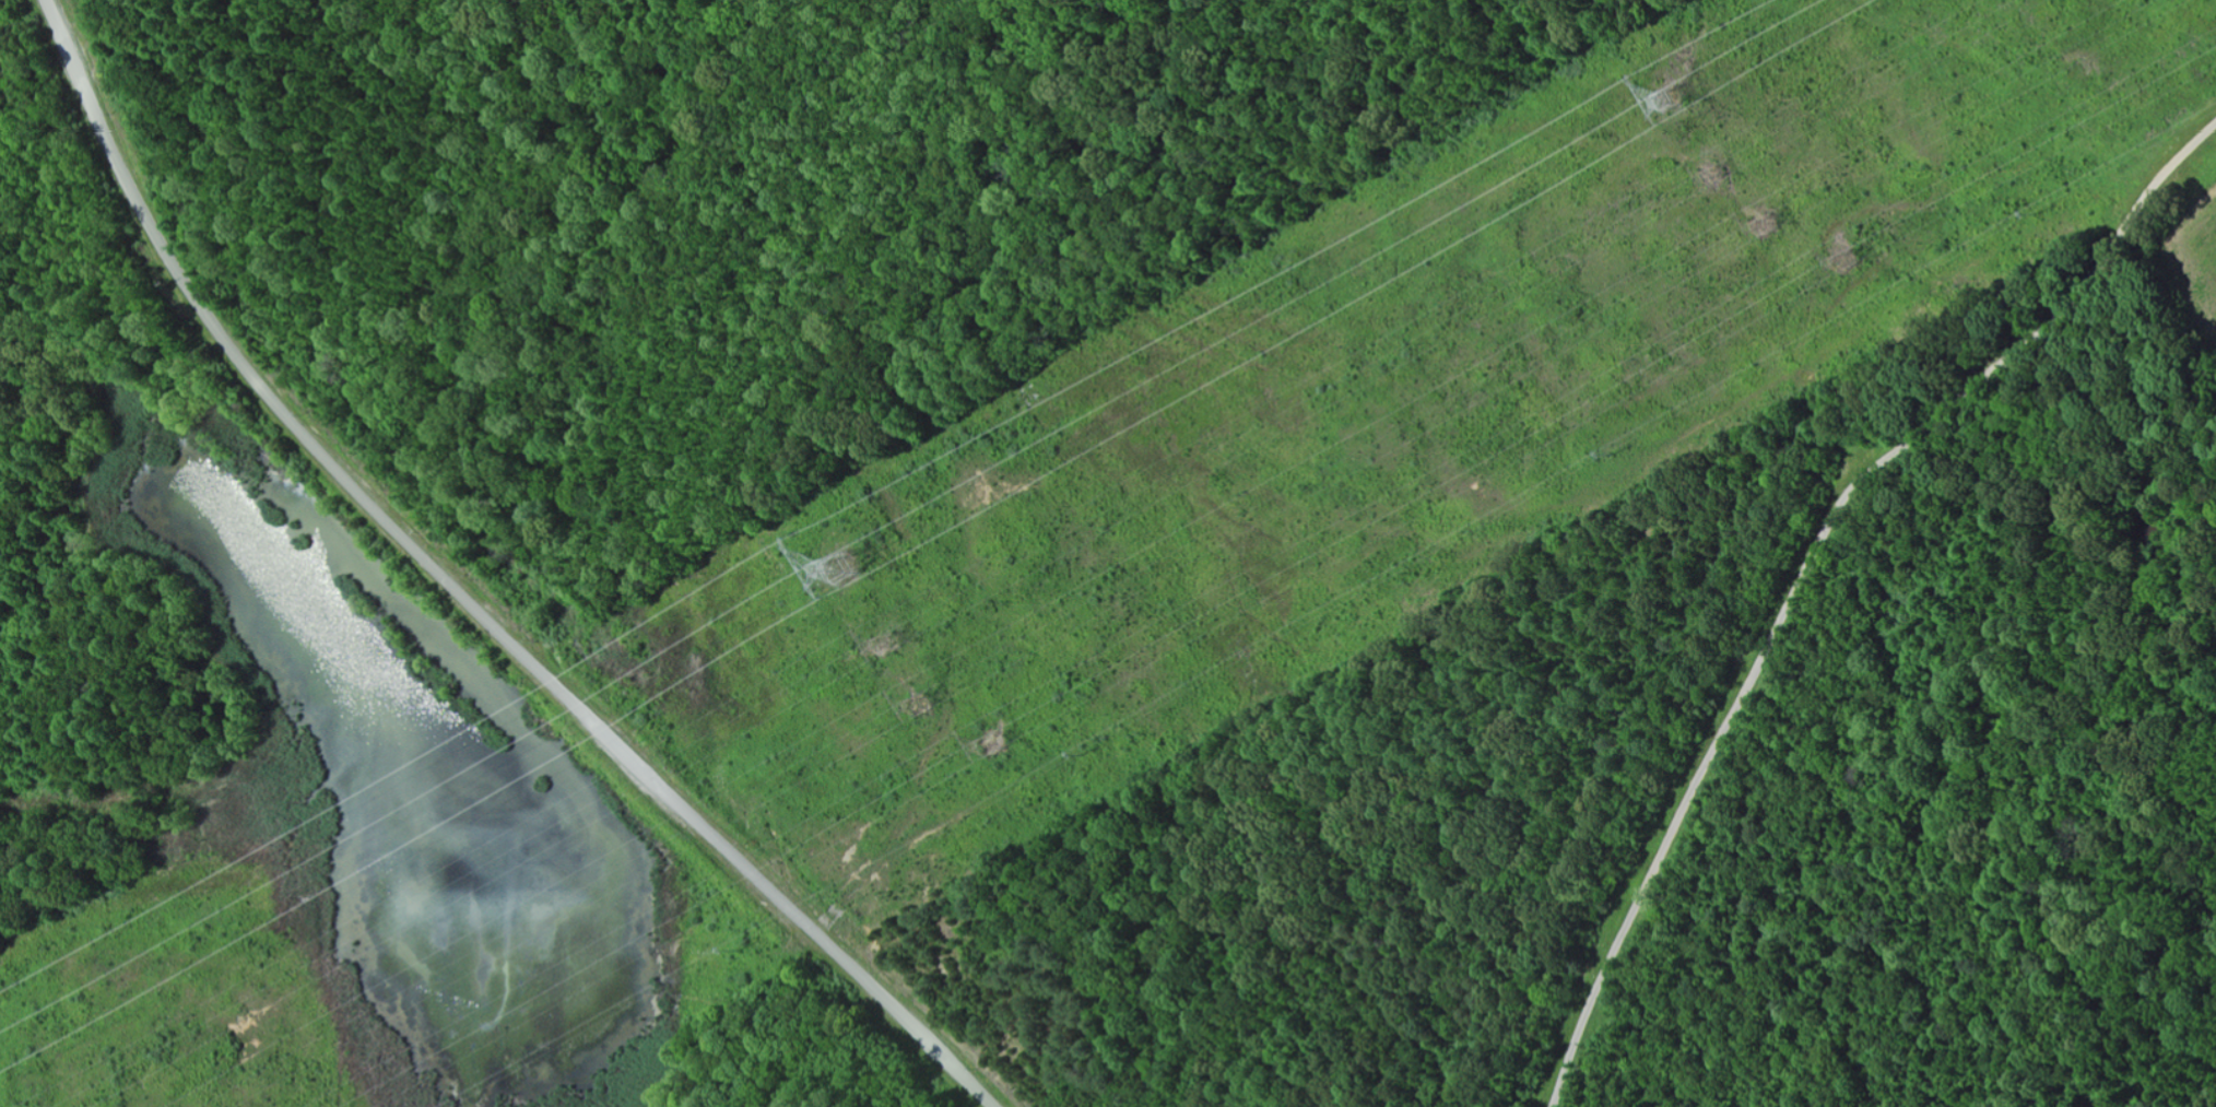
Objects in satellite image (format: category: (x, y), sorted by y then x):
power tower: (1688, 72)
power tower: (1713, 174)
power tower: (1769, 224)
power tower: (854, 567)
road: (464, 594)
power tower: (893, 644)
road: (1756, 686)
power tower: (919, 709)
power tower: (1002, 745)
power tower: (323, 848)

